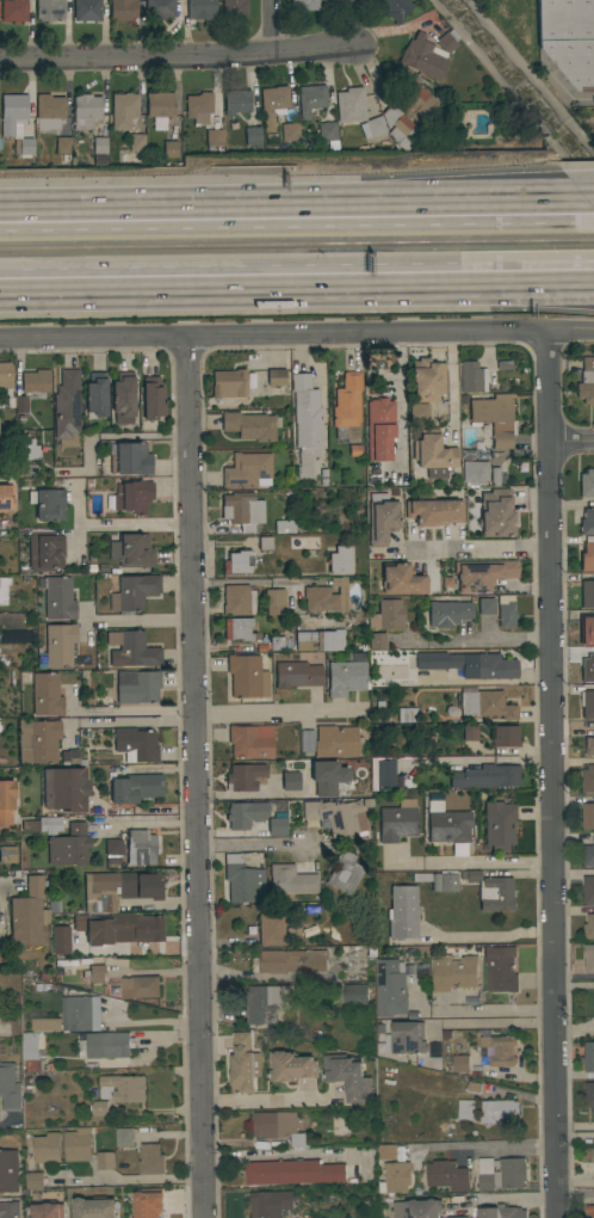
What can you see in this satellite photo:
building: (340, 0)
building: (305, 5)
building: (159, 8)
building: (234, 8)
building: (395, 8)
building: (49, 10)
building: (123, 10)
building: (200, 10)
building: (14, 11)
building: (86, 11)
road: (271, 26)
building: (568, 39)
road: (180, 55)
building: (426, 55)
road: (567, 93)
building: (309, 100)
building: (413, 100)
building: (236, 103)
building: (273, 105)
building: (349, 105)
building: (198, 107)
building: (160, 109)
building: (123, 110)
building: (85, 111)
building: (49, 112)
building: (16, 123)
building: (371, 128)
building: (400, 129)
building: (327, 131)
building: (290, 133)
building: (253, 136)
building: (214, 137)
building: (136, 143)
building: (63, 146)
building: (99, 146)
building: (169, 149)
road: (589, 199)
road: (292, 205)
road: (297, 232)
railway: (296, 245)
road: (296, 262)
road: (559, 288)
road: (262, 293)
road: (559, 295)
road: (297, 332)
building: (6, 375)
building: (276, 377)
building: (472, 377)
building: (427, 380)
building: (586, 382)
building: (229, 383)
building: (32, 388)
building: (95, 394)
building: (123, 398)
building: (151, 399)
building: (67, 405)
building: (347, 407)
building: (419, 413)
building: (494, 418)
building: (305, 419)
building: (252, 426)
building: (379, 429)
road: (122, 437)
road: (571, 445)
building: (26, 448)
building: (432, 453)
building: (130, 459)
building: (247, 470)
building: (475, 472)
building: (587, 484)
building: (132, 496)
building: (6, 498)
building: (49, 505)
building: (433, 510)
building: (242, 511)
building: (496, 513)
building: (382, 518)
building: (587, 522)
road: (135, 524)
building: (284, 527)
building: (265, 543)
road: (481, 546)
building: (132, 550)
building: (49, 552)
building: (587, 558)
building: (340, 560)
building: (237, 562)
building: (482, 574)
building: (402, 579)
building: (4, 590)
building: (132, 592)
building: (586, 593)
building: (327, 597)
building: (57, 598)
building: (237, 601)
building: (274, 601)
building: (485, 607)
building: (506, 611)
building: (447, 613)
building: (386, 616)
road: (136, 620)
building: (12, 621)
building: (239, 629)
building: (587, 630)
road: (479, 638)
building: (14, 639)
building: (320, 640)
building: (377, 641)
building: (277, 644)
building: (57, 646)
building: (131, 650)
building: (470, 665)
building: (587, 669)
building: (297, 675)
building: (247, 677)
building: (346, 678)
building: (137, 687)
building: (45, 695)
building: (485, 705)
building: (587, 705)
road: (124, 709)
road: (280, 712)
building: (403, 715)
road: (130, 722)
building: (470, 733)
building: (505, 736)
building: (38, 742)
building: (250, 742)
building: (336, 742)
building: (588, 743)
building: (136, 744)
building: (72, 757)
building: (383, 771)
road: (551, 773)
road: (194, 776)
building: (245, 777)
building: (327, 777)
building: (485, 777)
building: (588, 779)
building: (290, 781)
building: (136, 788)
building: (64, 789)
road: (252, 794)
building: (8, 802)
building: (245, 814)
building: (336, 816)
building: (588, 816)
building: (397, 822)
building: (276, 824)
building: (49, 825)
building: (499, 825)
building: (29, 826)
building: (450, 828)
building: (69, 847)
building: (113, 848)
building: (140, 848)
road: (250, 848)
building: (7, 855)
building: (588, 855)
road: (468, 866)
building: (344, 873)
building: (291, 879)
building: (242, 880)
building: (439, 881)
road: (7, 882)
building: (120, 888)
building: (588, 890)
building: (491, 891)
building: (402, 912)
building: (27, 913)
building: (589, 928)
building: (271, 929)
building: (129, 931)
building: (302, 931)
road: (489, 936)
building: (60, 941)
building: (589, 958)
building: (291, 960)
building: (500, 970)
building: (453, 972)
building: (94, 973)
building: (13, 980)
building: (141, 986)
building: (112, 989)
building: (391, 989)
building: (355, 994)
building: (266, 1001)
road: (493, 1013)
building: (81, 1014)
road: (151, 1021)
building: (47, 1025)
building: (407, 1038)
building: (109, 1045)
building: (500, 1050)
building: (434, 1051)
building: (37, 1052)
building: (588, 1057)
building: (243, 1064)
building: (460, 1064)
building: (291, 1066)
building: (348, 1077)
building: (472, 1087)
building: (10, 1088)
building: (123, 1088)
building: (589, 1095)
road: (265, 1100)
building: (100, 1108)
building: (465, 1109)
building: (507, 1111)
building: (489, 1112)
building: (279, 1127)
building: (125, 1137)
building: (79, 1145)
road: (484, 1145)
building: (47, 1146)
building: (388, 1152)
building: (151, 1159)
building: (105, 1161)
building: (8, 1170)
building: (293, 1173)
building: (501, 1173)
building: (447, 1175)
road: (134, 1177)
building: (396, 1177)
building: (35, 1181)
road: (576, 1192)
road: (508, 1198)
building: (149, 1202)
building: (270, 1204)
building: (8, 1207)
building: (95, 1207)
building: (417, 1208)
building: (48, 1210)
building: (590, 1210)
building: (502, 1212)
building: (459, 1217)

